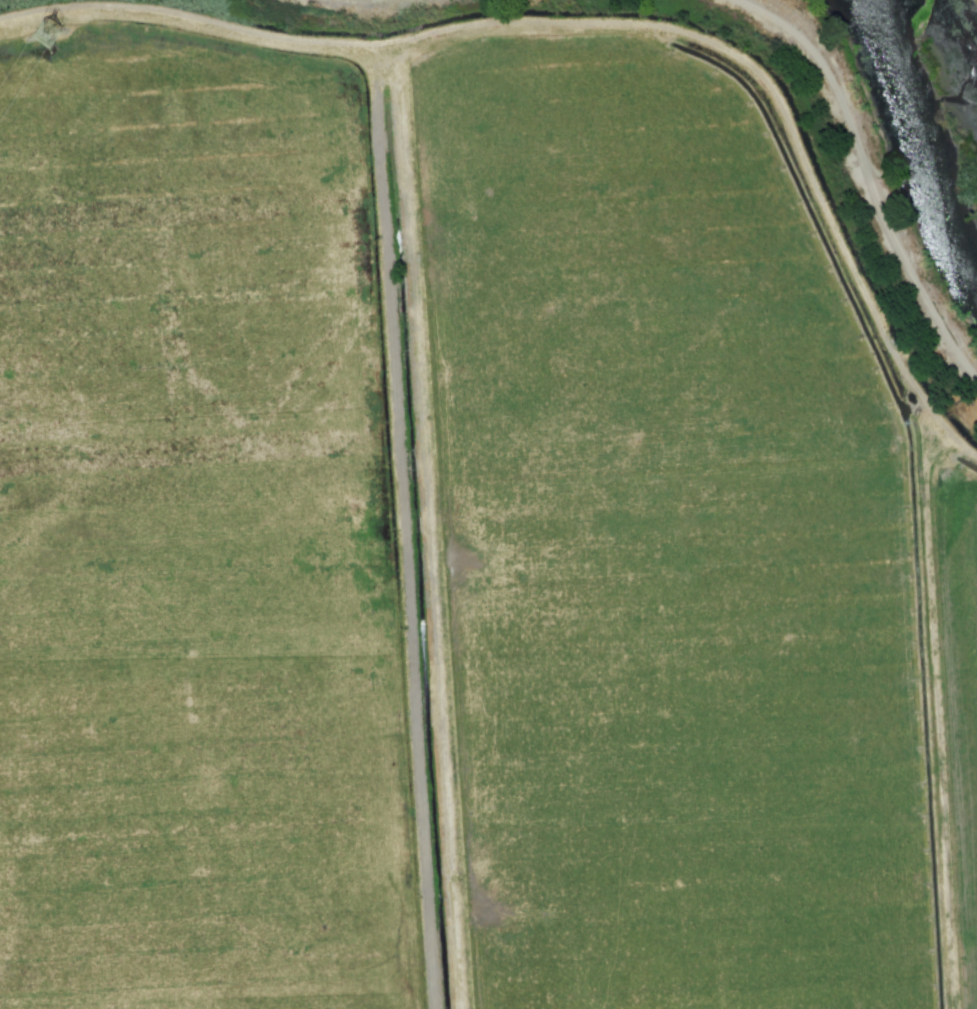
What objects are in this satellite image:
road: (603, 9)
river: (918, 48)
river: (944, 181)
road: (877, 182)

